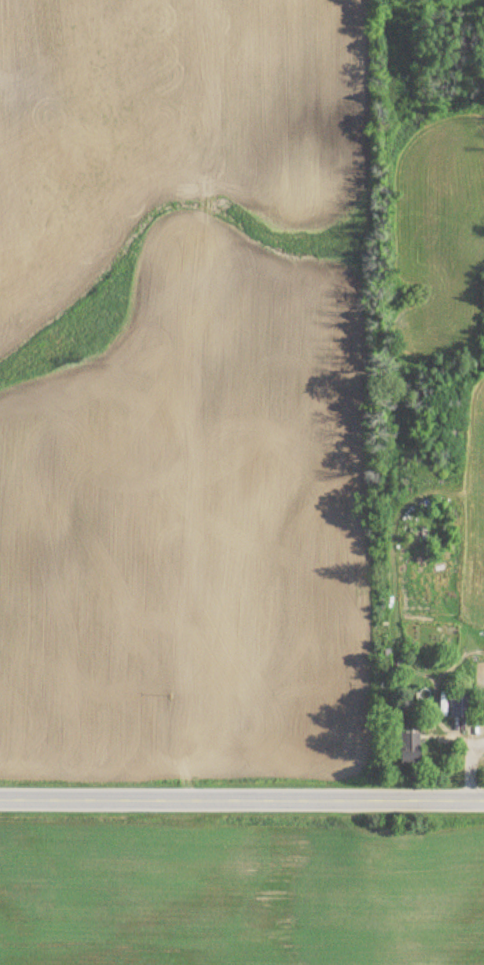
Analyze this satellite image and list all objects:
building: (460, 705)
building: (407, 747)
road: (242, 798)

